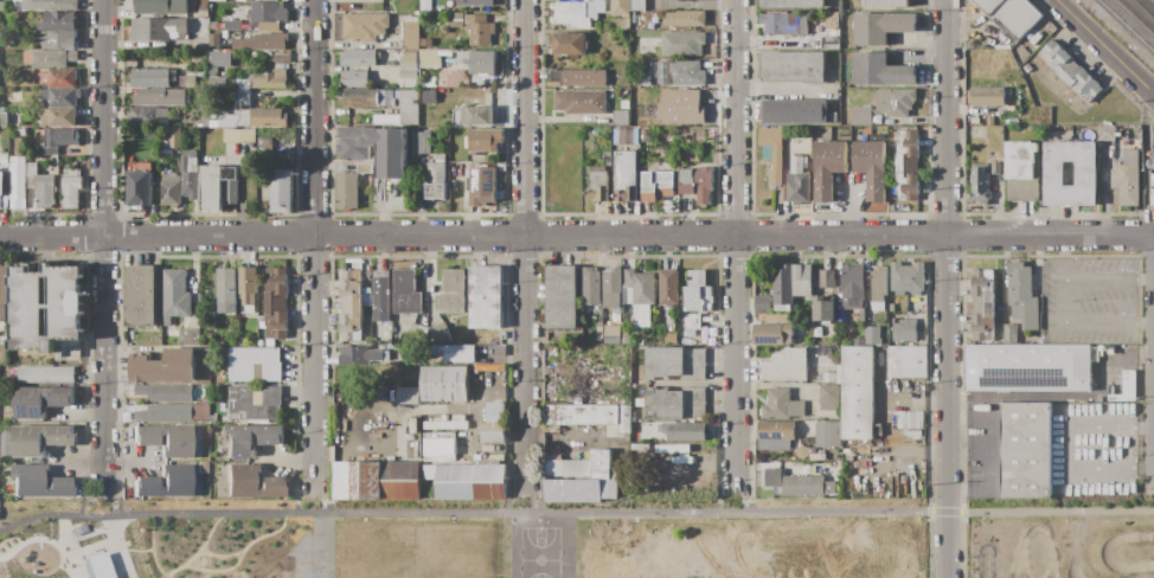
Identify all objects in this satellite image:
building: (217, 0)
building: (372, 0)
building: (598, 0)
building: (673, 0)
building: (475, 2)
building: (791, 4)
building: (885, 4)
building: (50, 5)
building: (637, 5)
building: (620, 7)
building: (160, 8)
building: (595, 8)
railway: (1143, 8)
building: (417, 13)
building: (571, 14)
building: (267, 15)
building: (1009, 15)
railway: (1136, 15)
building: (686, 18)
building: (411, 19)
building: (455, 20)
building: (57, 23)
building: (620, 23)
building: (780, 24)
building: (232, 25)
railway: (1127, 25)
building: (365, 26)
building: (881, 27)
building: (815, 28)
building: (159, 30)
building: (479, 30)
building: (410, 36)
building: (58, 40)
building: (268, 41)
building: (425, 43)
building: (569, 43)
building: (681, 44)
building: (224, 47)
road: (1103, 49)
building: (447, 53)
building: (251, 57)
building: (26, 58)
building: (52, 58)
building: (220, 58)
building: (282, 58)
building: (359, 58)
building: (409, 58)
building: (427, 58)
building: (477, 60)
building: (409, 66)
building: (793, 66)
building: (662, 68)
building: (1027, 69)
building: (880, 71)
building: (1070, 71)
building: (686, 73)
building: (409, 75)
building: (152, 77)
building: (448, 77)
building: (63, 78)
building: (577, 78)
building: (354, 79)
building: (270, 81)
building: (186, 82)
building: (428, 82)
building: (646, 82)
building: (408, 83)
building: (243, 84)
building: (1011, 84)
building: (265, 94)
building: (60, 96)
building: (160, 97)
building: (242, 97)
building: (360, 97)
building: (387, 97)
building: (428, 97)
building: (986, 97)
building: (579, 102)
building: (896, 103)
building: (624, 104)
building: (408, 107)
building: (680, 107)
building: (1009, 108)
building: (794, 111)
building: (148, 116)
building: (477, 116)
building: (832, 116)
building: (860, 116)
building: (59, 117)
building: (205, 117)
building: (241, 117)
building: (4, 118)
building: (268, 118)
building: (621, 118)
building: (386, 120)
building: (223, 121)
building: (974, 121)
building: (990, 121)
building: (213, 122)
building: (231, 123)
building: (1107, 133)
building: (238, 135)
building: (626, 135)
building: (697, 135)
building: (129, 136)
building: (174, 139)
building: (58, 140)
building: (485, 140)
building: (421, 142)
building: (264, 143)
building: (376, 149)
building: (772, 153)
building: (999, 158)
building: (440, 159)
building: (1020, 160)
building: (1153, 160)
building: (187, 161)
building: (162, 163)
building: (796, 165)
building: (457, 166)
building: (908, 166)
building: (871, 167)
building: (365, 168)
building: (827, 168)
building: (995, 168)
building: (161, 172)
building: (468, 173)
building: (229, 174)
building: (1069, 174)
building: (626, 176)
building: (1127, 178)
building: (858, 180)
building: (1152, 180)
building: (17, 182)
building: (436, 182)
building: (980, 182)
building: (190, 184)
building: (698, 184)
building: (658, 185)
building: (40, 186)
building: (482, 186)
building: (597, 186)
building: (70, 188)
building: (139, 188)
building: (211, 188)
building: (797, 188)
building: (169, 190)
building: (1021, 190)
building: (2, 191)
building: (346, 191)
building: (281, 192)
building: (230, 193)
building: (1152, 198)
road: (576, 236)
road: (525, 240)
road: (313, 242)
road: (737, 242)
road: (104, 244)
building: (367, 277)
building: (826, 278)
building: (908, 278)
building: (611, 280)
building: (802, 281)
building: (878, 283)
building: (590, 285)
building: (852, 285)
building: (637, 288)
building: (783, 288)
building: (248, 289)
road: (947, 289)
building: (227, 290)
building: (2, 291)
building: (451, 291)
building: (669, 291)
building: (405, 293)
building: (697, 293)
building: (174, 295)
building: (367, 295)
building: (140, 296)
building: (380, 296)
building: (1022, 296)
building: (486, 297)
building: (560, 297)
building: (610, 300)
road: (1063, 301)
building: (276, 302)
building: (762, 304)
building: (351, 306)
building: (982, 306)
building: (46, 307)
building: (878, 307)
building: (823, 309)
building: (367, 312)
building: (628, 314)
building: (861, 316)
building: (841, 317)
building: (259, 319)
building: (660, 320)
building: (692, 321)
building: (672, 323)
building: (713, 323)
building: (259, 325)
building: (705, 326)
building: (906, 330)
building: (418, 334)
building: (440, 334)
building: (589, 334)
building: (772, 334)
building: (1009, 334)
building: (872, 335)
building: (188, 338)
building: (604, 338)
building: (626, 338)
building: (669, 339)
building: (243, 341)
building: (684, 341)
building: (859, 341)
building: (823, 351)
building: (460, 354)
building: (360, 355)
building: (416, 355)
building: (880, 360)
building: (906, 361)
building: (673, 364)
building: (254, 365)
building: (786, 366)
building: (164, 367)
building: (491, 367)
building: (826, 367)
building: (1027, 367)
building: (839, 371)
building: (50, 374)
building: (818, 374)
building: (827, 378)
building: (444, 384)
building: (1127, 385)
building: (165, 392)
building: (858, 393)
building: (408, 397)
building: (829, 398)
building: (40, 400)
building: (252, 402)
building: (674, 404)
building: (776, 404)
building: (797, 409)
building: (165, 412)
building: (581, 415)
building: (440, 417)
building: (457, 418)
building: (624, 419)
building: (900, 419)
building: (910, 420)
building: (918, 420)
building: (445, 425)
building: (413, 426)
road: (886, 426)
building: (551, 429)
building: (775, 430)
building: (684, 431)
building: (494, 432)
building: (912, 433)
building: (828, 435)
building: (39, 439)
building: (165, 439)
building: (251, 439)
road: (573, 439)
building: (6, 443)
road: (1068, 445)
building: (440, 447)
building: (775, 448)
building: (492, 449)
building: (1025, 450)
building: (552, 451)
building: (816, 456)
building: (552, 457)
building: (487, 458)
building: (601, 463)
road: (688, 465)
building: (775, 465)
building: (203, 467)
building: (568, 468)
building: (833, 469)
building: (400, 471)
building: (429, 473)
building: (616, 474)
building: (774, 477)
building: (342, 480)
building: (357, 480)
building: (372, 480)
building: (165, 482)
building: (251, 482)
building: (470, 482)
building: (39, 483)
building: (687, 486)
building: (803, 486)
building: (831, 487)
building: (400, 489)
building: (610, 489)
building: (573, 490)
road: (532, 495)
road: (322, 496)
road: (744, 496)
road: (113, 500)
road: (633, 512)
road: (55, 515)
road: (84, 534)
park: (464, 538)
park: (1059, 538)
road: (44, 539)
street lamp: (126, 542)
road: (323, 545)
road: (512, 545)
road: (568, 545)
road: (69, 546)
road: (89, 547)
road: (115, 547)
road: (152, 547)
road: (133, 550)
road: (198, 551)
road: (239, 553)
road: (219, 554)
building: (96, 566)
road: (160, 576)

